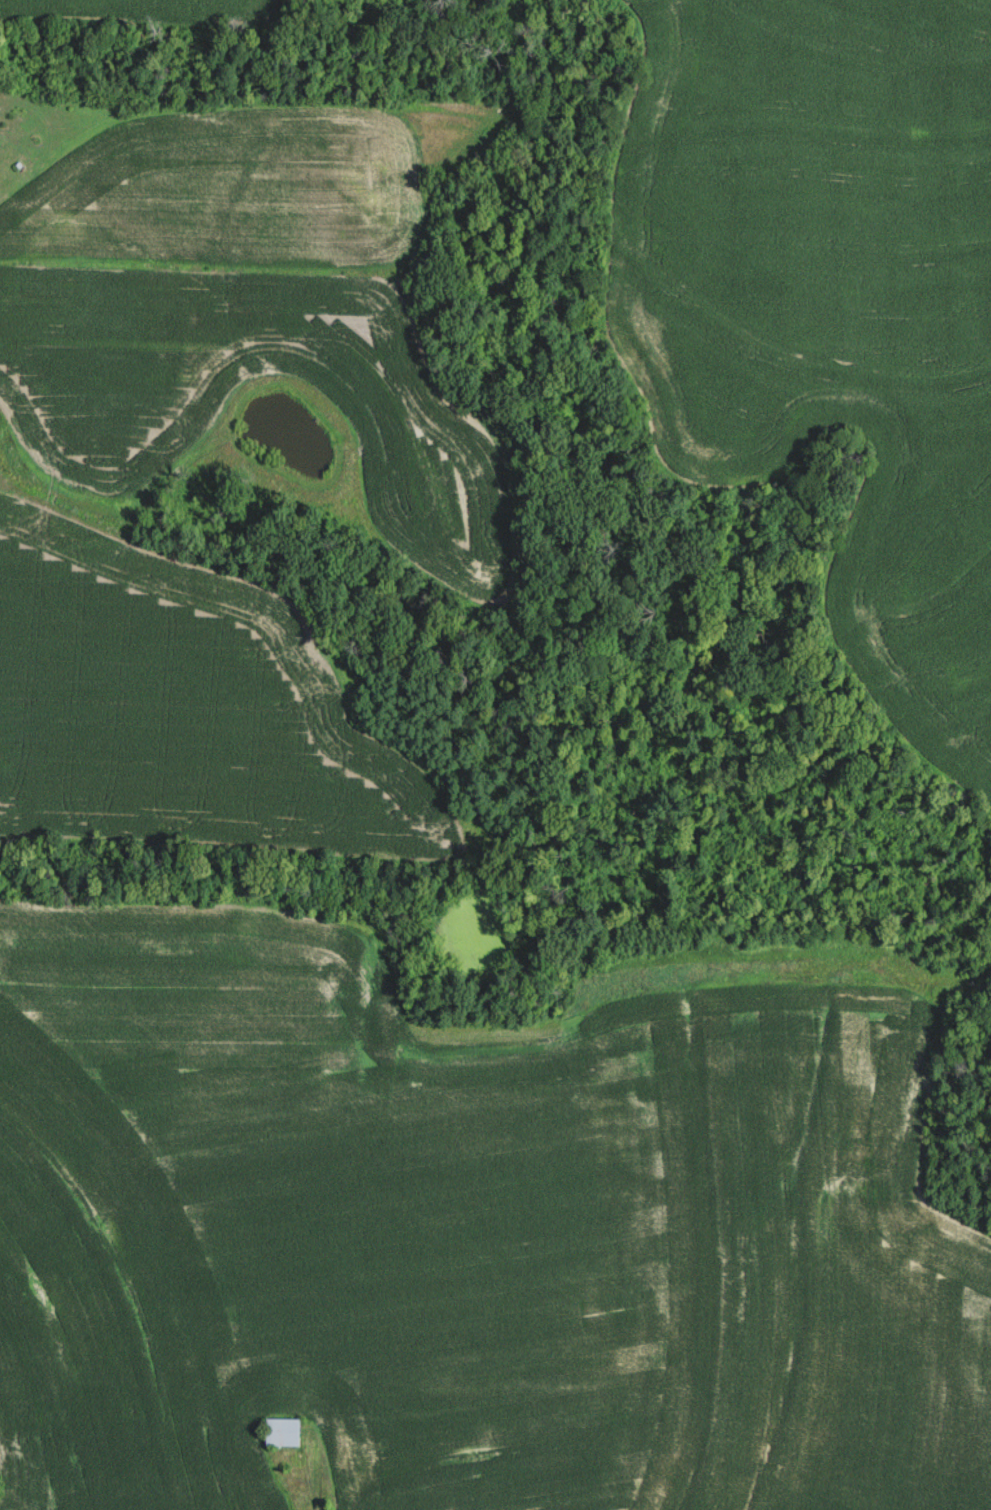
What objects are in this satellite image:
building: (285, 1431)
road: (316, 1494)

